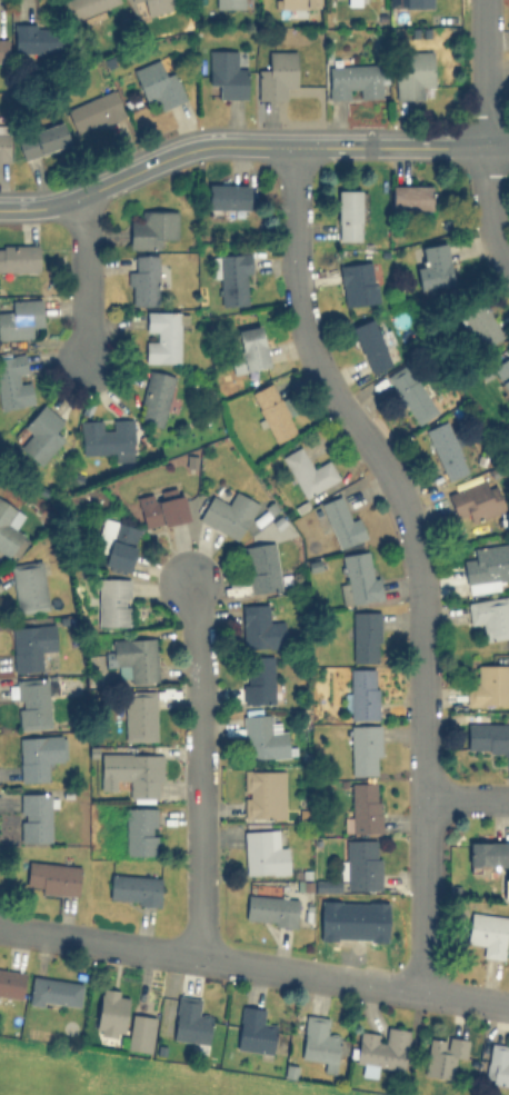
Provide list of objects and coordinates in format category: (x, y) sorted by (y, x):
building: (132, 0)
building: (411, 2)
building: (228, 3)
building: (298, 3)
building: (156, 6)
building: (86, 7)
building: (36, 38)
building: (3, 49)
building: (226, 72)
road: (482, 72)
building: (412, 73)
building: (277, 74)
building: (353, 80)
building: (158, 81)
building: (93, 110)
building: (42, 139)
building: (4, 141)
road: (248, 148)
building: (227, 196)
building: (411, 197)
road: (488, 207)
building: (349, 215)
building: (151, 228)
building: (19, 257)
building: (433, 267)
building: (231, 277)
building: (142, 278)
building: (357, 282)
road: (82, 285)
building: (20, 318)
building: (480, 325)
building: (163, 334)
building: (370, 345)
building: (248, 350)
building: (502, 371)
building: (13, 380)
building: (411, 392)
building: (154, 398)
building: (273, 411)
building: (42, 432)
building: (108, 438)
building: (446, 449)
building: (308, 471)
building: (475, 499)
building: (162, 507)
building: (227, 512)
building: (341, 520)
building: (10, 529)
building: (120, 545)
road: (419, 554)
building: (261, 566)
building: (486, 567)
building: (359, 576)
building: (29, 585)
building: (113, 600)
building: (490, 616)
building: (260, 627)
building: (365, 635)
building: (30, 645)
building: (132, 658)
building: (258, 679)
building: (489, 685)
building: (362, 693)
building: (32, 703)
building: (140, 714)
building: (265, 736)
building: (488, 738)
building: (365, 748)
building: (38, 755)
road: (199, 768)
building: (132, 772)
building: (263, 794)
road: (467, 799)
building: (363, 806)
building: (34, 816)
building: (140, 830)
building: (265, 852)
building: (488, 854)
building: (361, 863)
building: (52, 877)
building: (133, 888)
building: (270, 908)
building: (357, 919)
building: (488, 933)
road: (255, 963)
building: (11, 982)
building: (54, 992)
building: (110, 1012)
building: (190, 1021)
building: (253, 1029)
building: (140, 1032)
building: (318, 1041)
building: (382, 1049)
building: (443, 1054)
building: (497, 1064)

